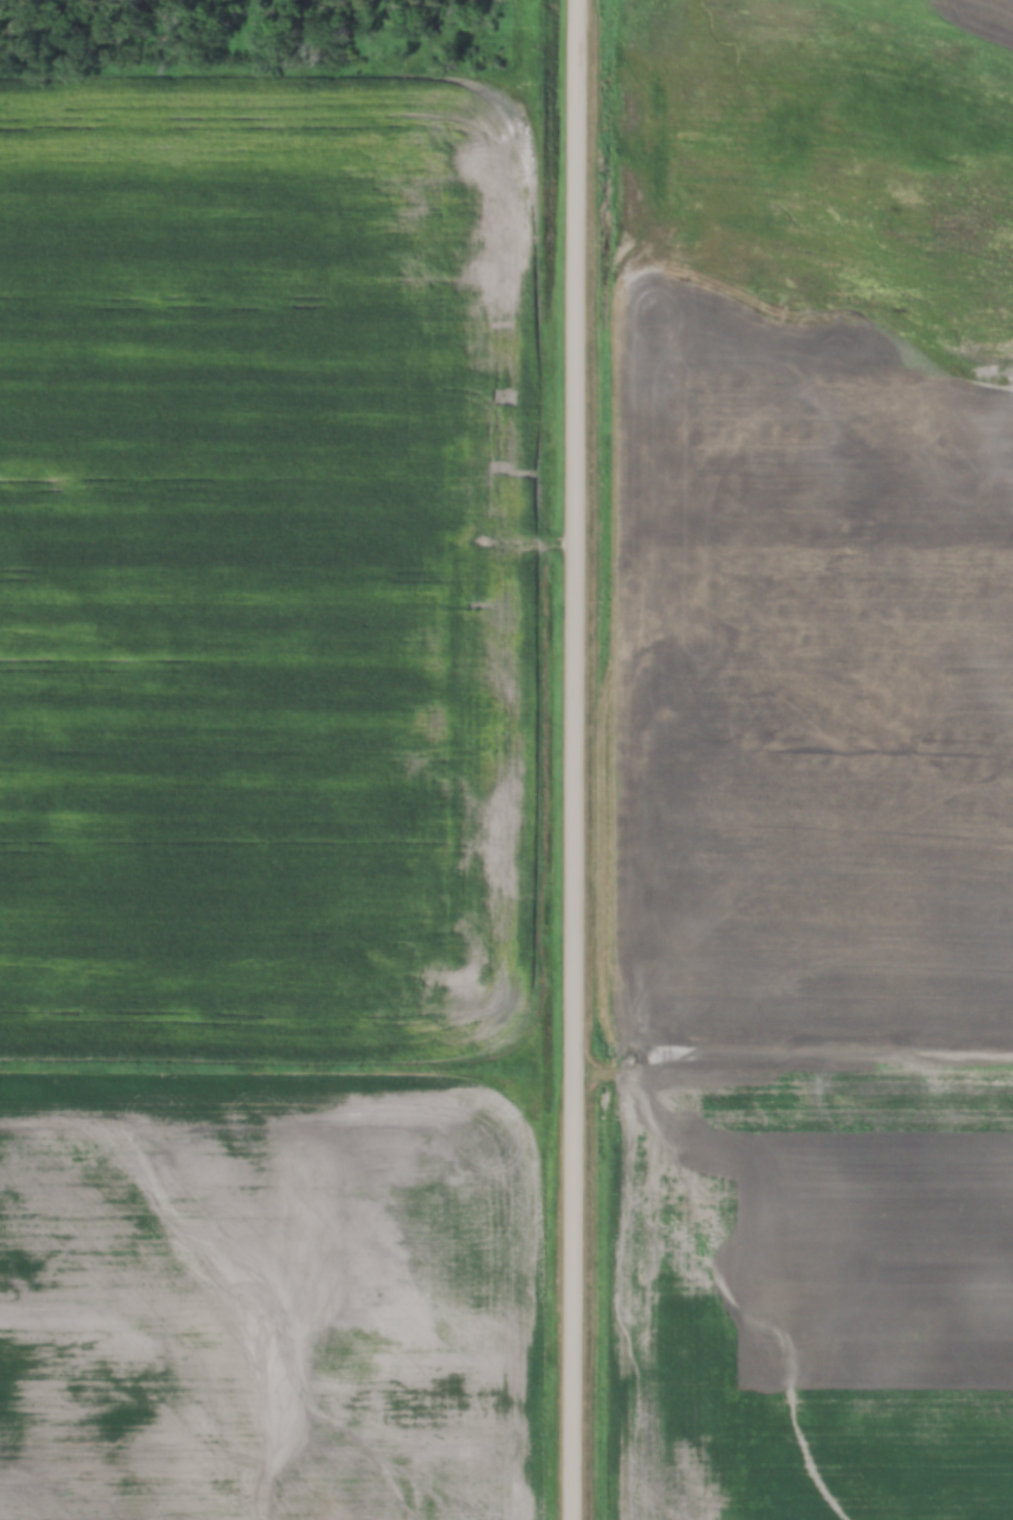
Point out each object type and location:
road: (576, 760)

